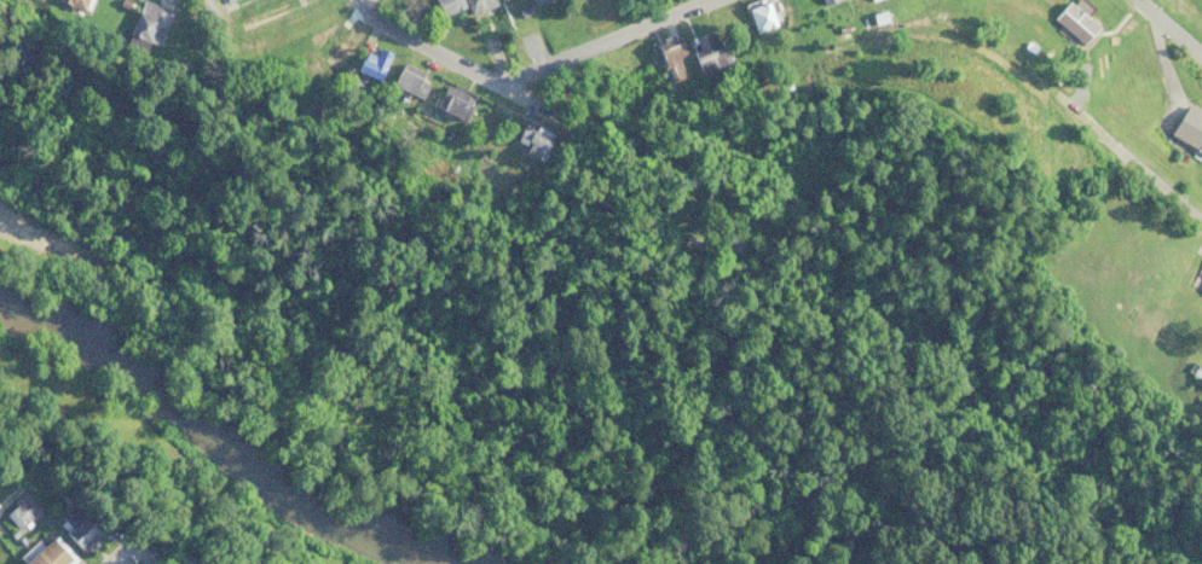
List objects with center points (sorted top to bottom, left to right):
building: (499, 0)
building: (534, 1)
building: (828, 1)
building: (75, 4)
building: (478, 5)
building: (446, 6)
building: (300, 18)
building: (143, 27)
road: (1165, 30)
road: (613, 46)
building: (328, 48)
building: (701, 54)
building: (668, 56)
road: (441, 62)
building: (369, 63)
building: (408, 80)
building: (53, 82)
building: (451, 101)
building: (1187, 129)
building: (528, 139)
road: (1139, 176)
building: (727, 239)
building: (1197, 279)
river: (220, 446)
road: (13, 485)
building: (18, 512)
building: (77, 531)
road: (138, 546)
road: (174, 546)
building: (48, 553)

